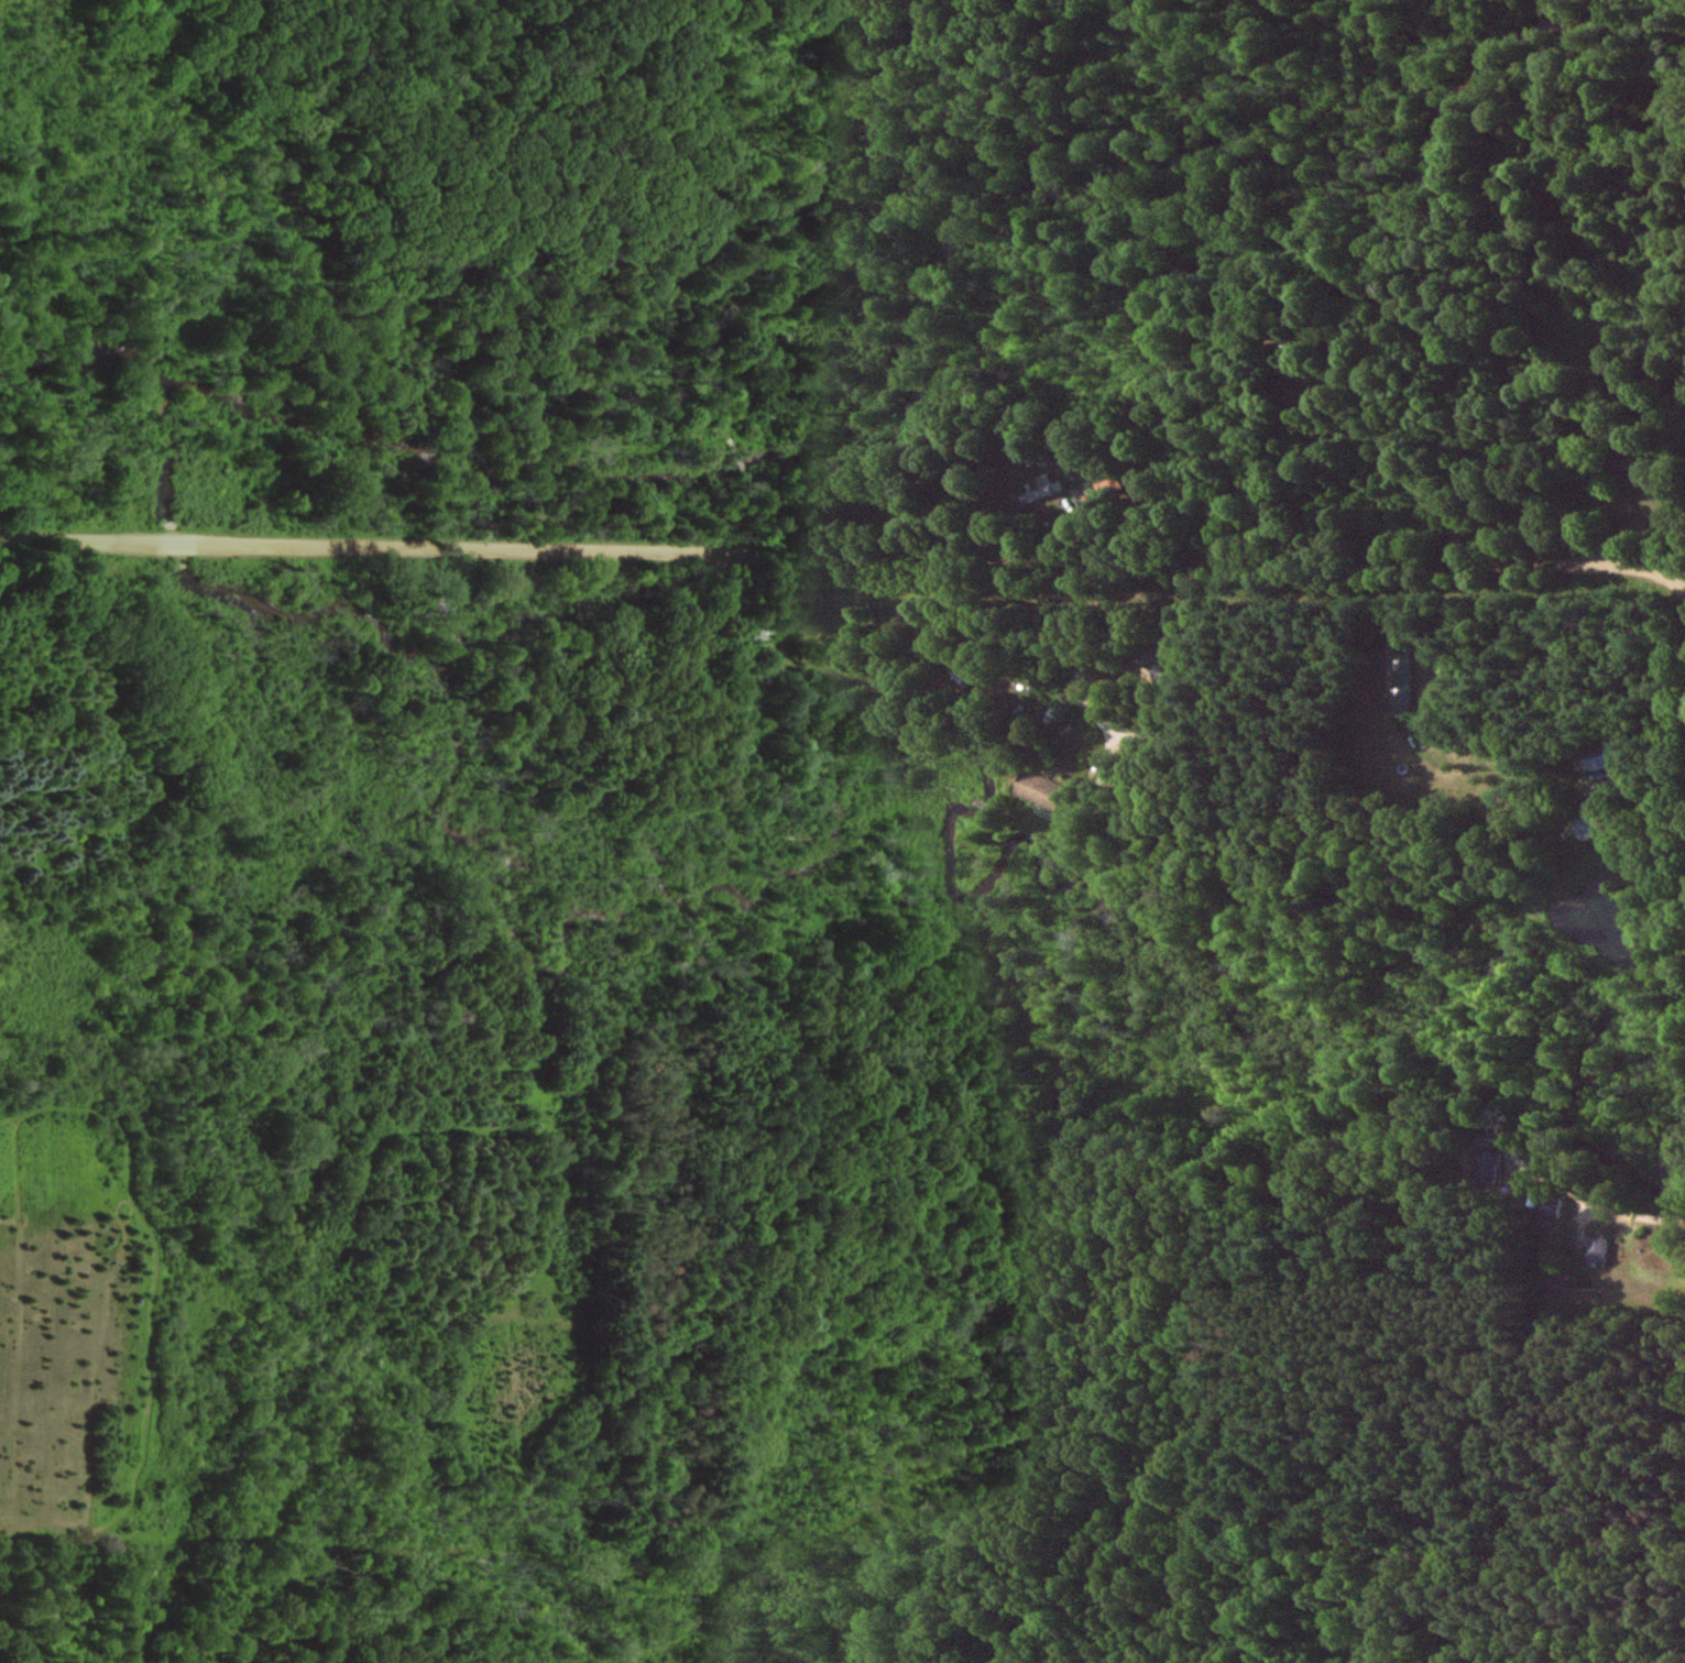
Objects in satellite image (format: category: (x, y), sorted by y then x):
building: (1621, 463)
building: (1044, 490)
road: (1673, 511)
road: (842, 558)
road: (1389, 639)
building: (1160, 656)
building: (1403, 683)
road: (1095, 715)
building: (1598, 758)
building: (1036, 789)
building: (1583, 827)
building: (1486, 1166)
road: (1560, 1192)
building: (1594, 1249)

